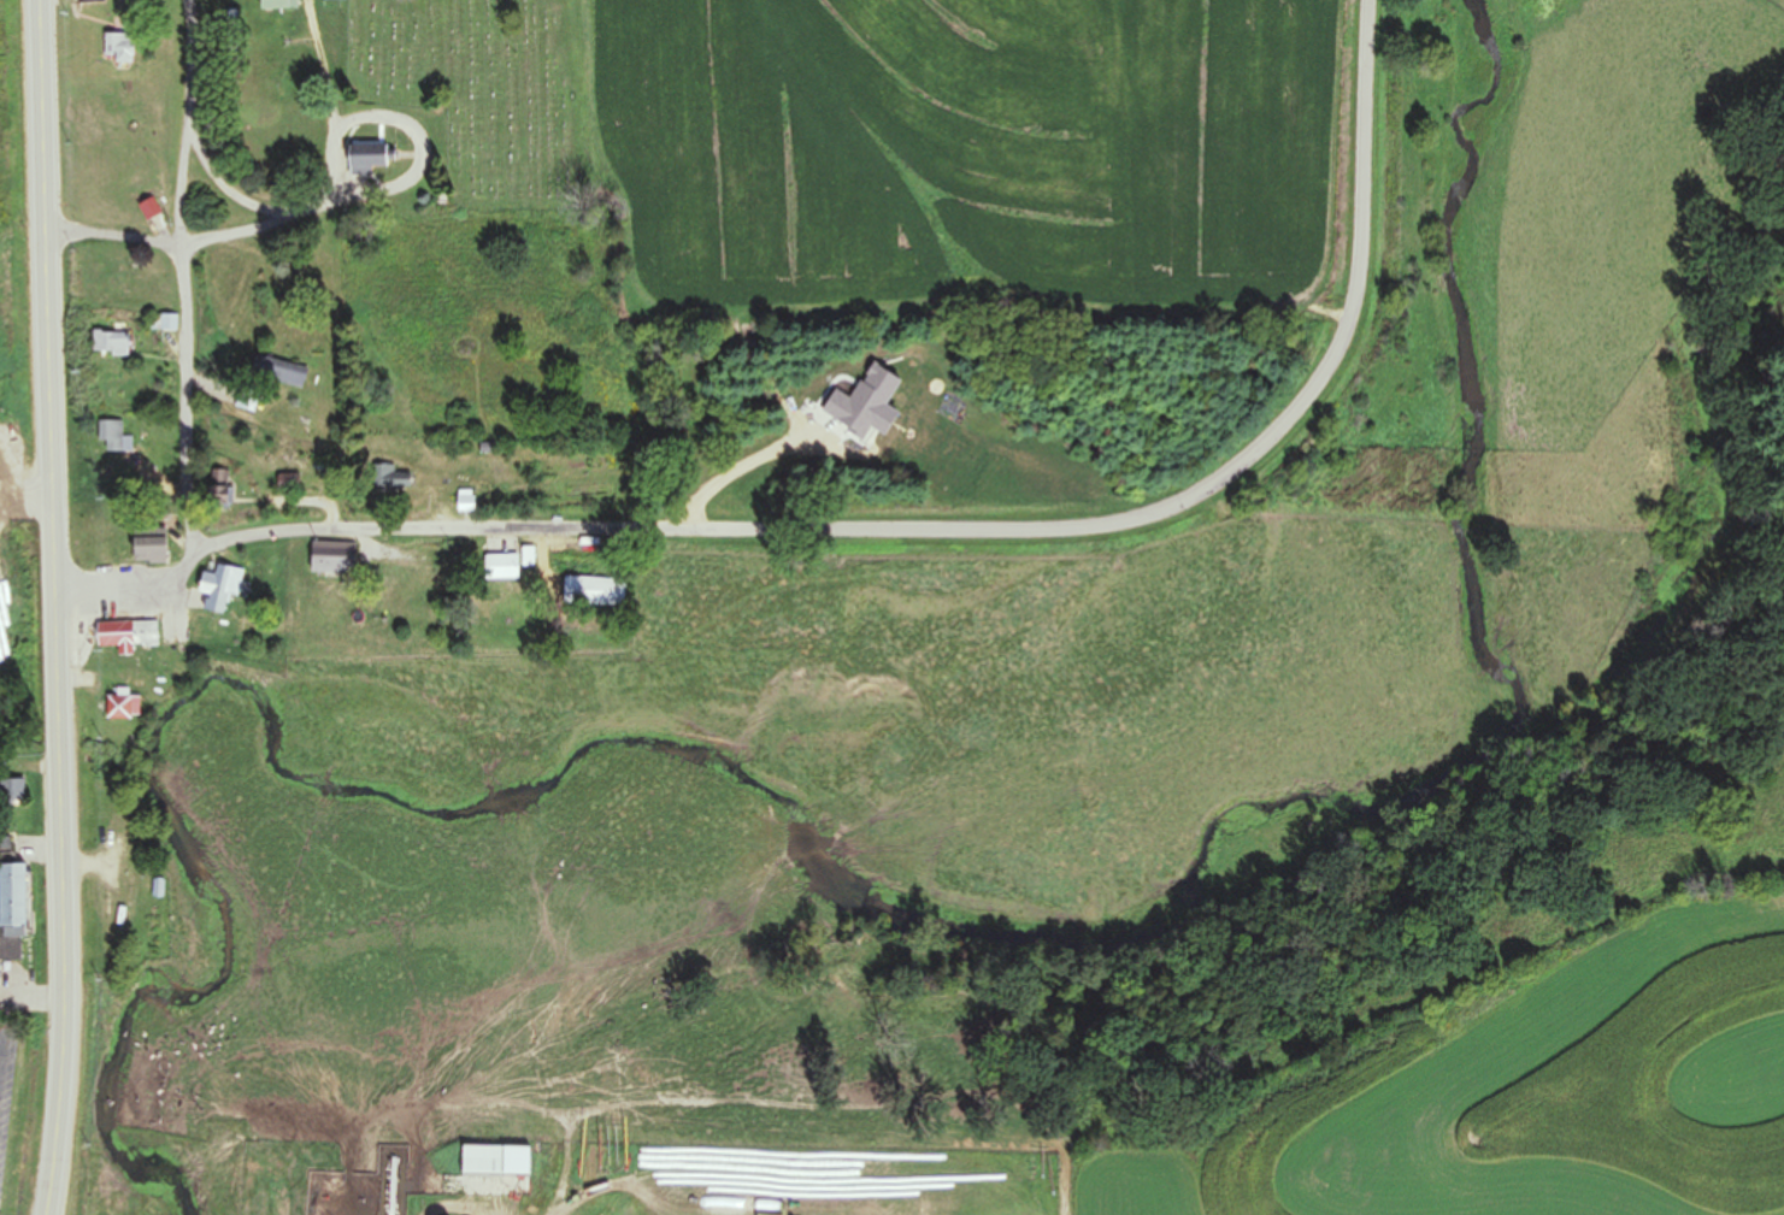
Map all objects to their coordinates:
building: (90, 2)
building: (275, 5)
building: (118, 48)
road: (323, 70)
park: (485, 92)
road: (187, 123)
building: (365, 157)
road: (399, 183)
road: (223, 189)
building: (146, 205)
road: (116, 238)
building: (220, 279)
building: (112, 282)
building: (164, 323)
building: (111, 342)
building: (276, 368)
building: (246, 397)
road: (190, 401)
building: (116, 437)
building: (389, 473)
building: (464, 500)
building: (90, 530)
road: (908, 535)
building: (147, 543)
building: (330, 558)
building: (497, 565)
building: (219, 588)
road: (55, 607)
building: (126, 633)
building: (163, 661)
building: (120, 703)
building: (12, 790)
river: (842, 861)
building: (11, 898)
building: (481, 1158)
road: (454, 1207)

